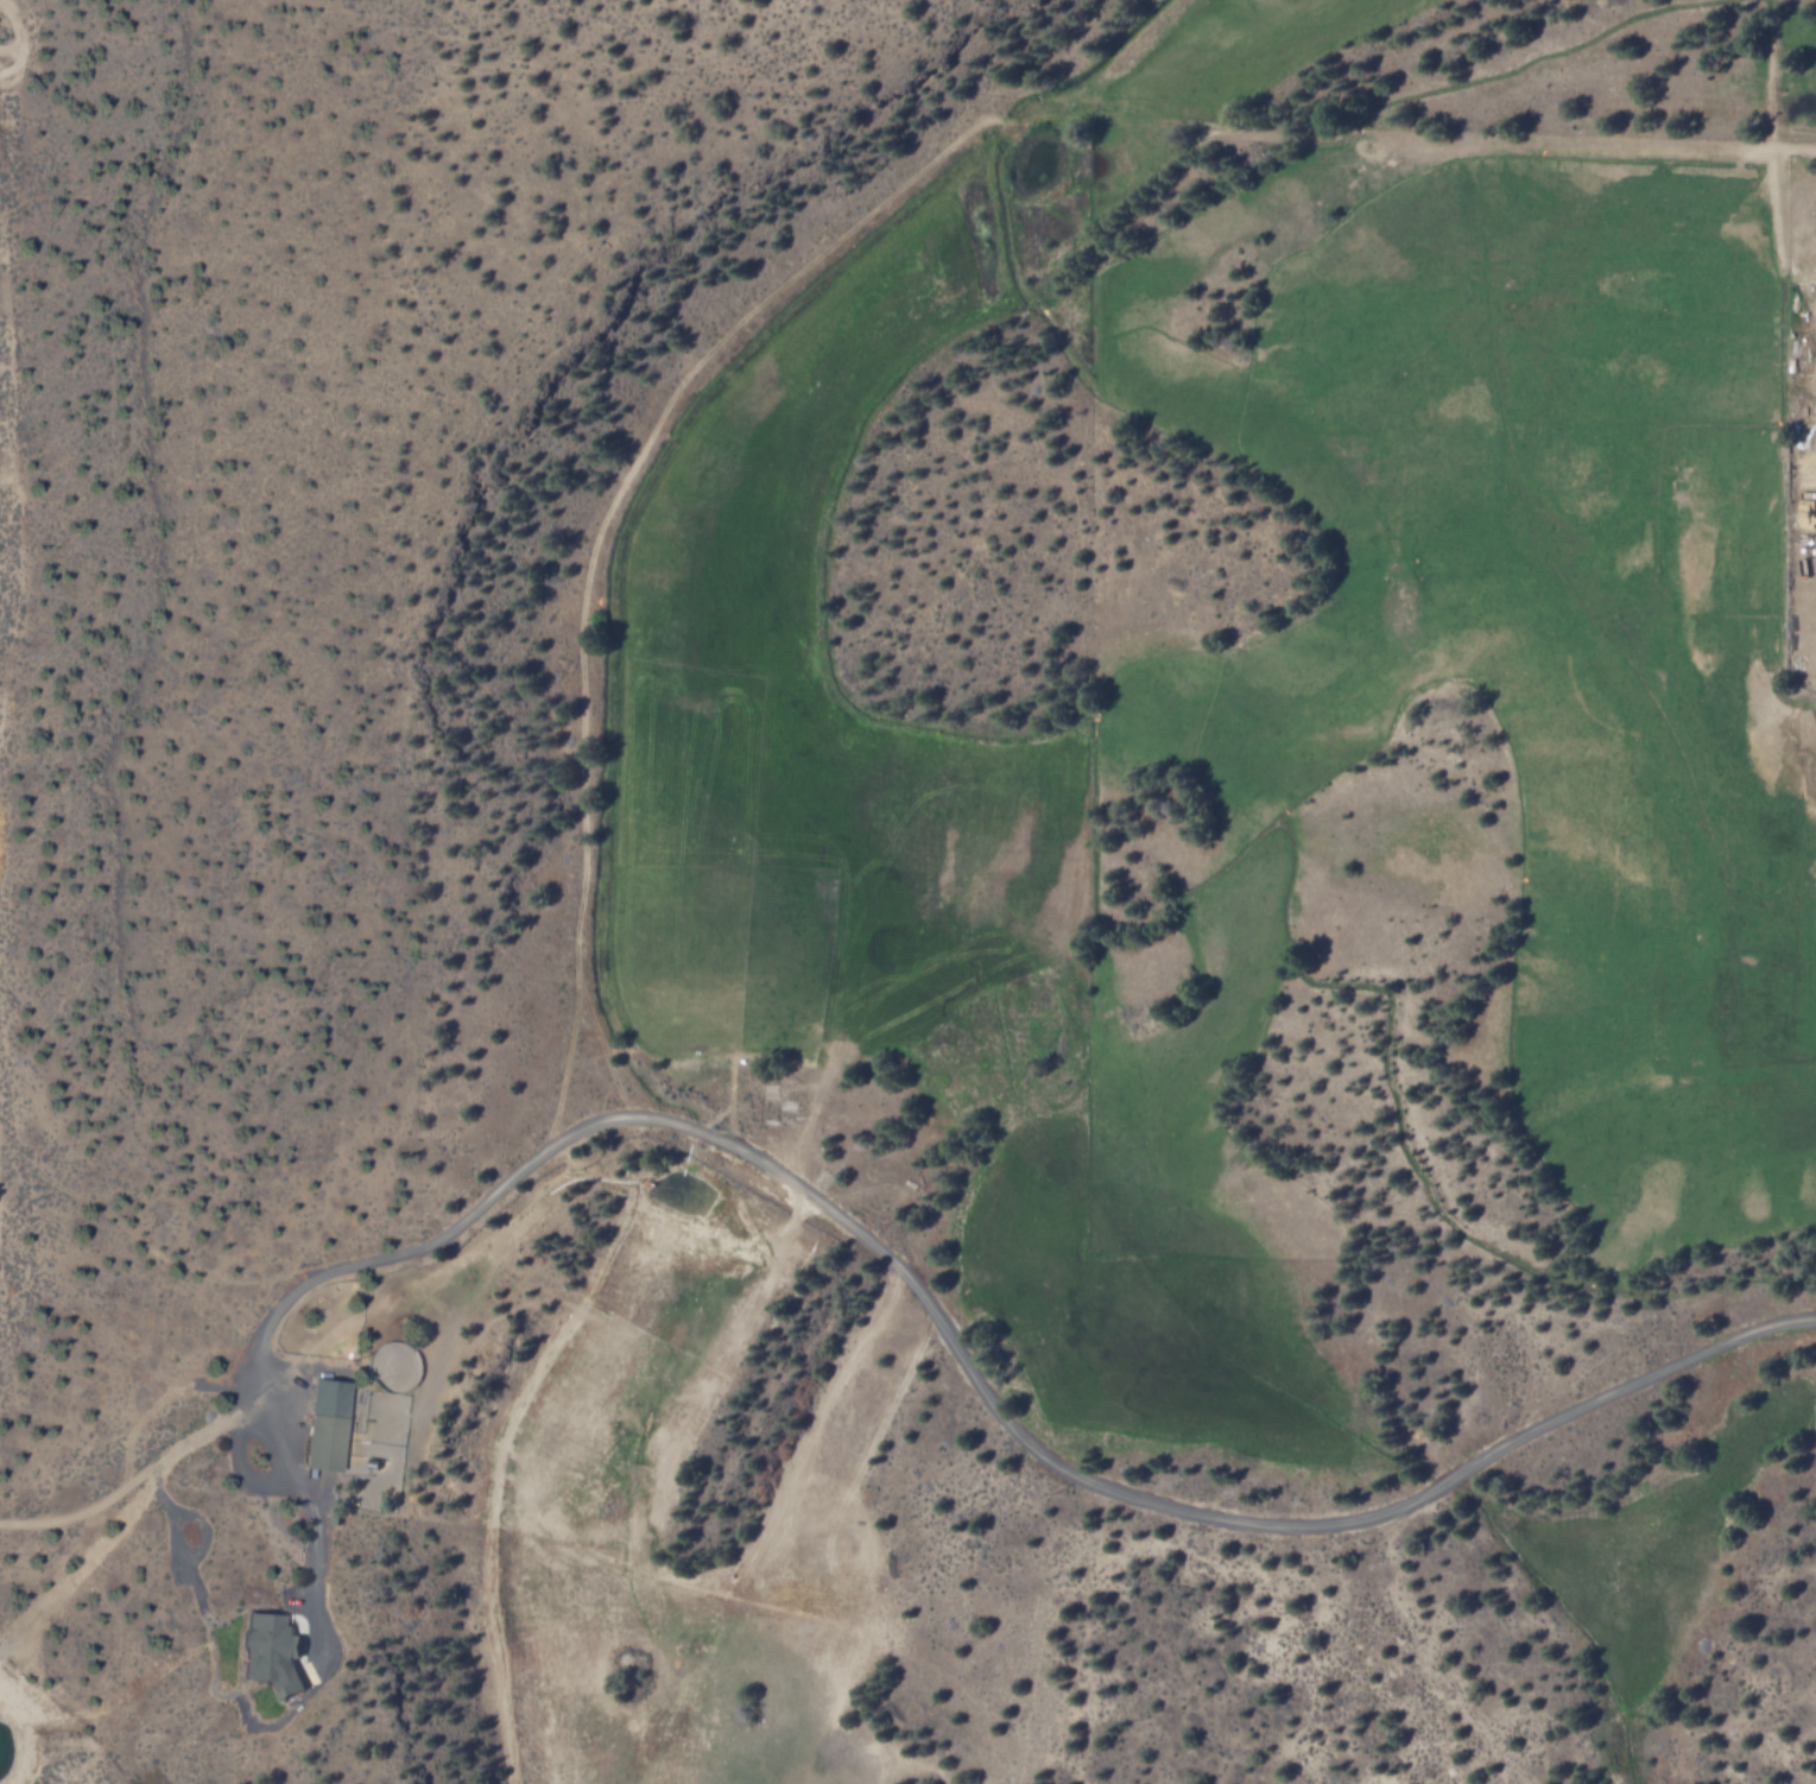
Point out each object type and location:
crop: (1325, 26)
road: (608, 513)
crop: (1506, 611)
road: (600, 1050)
road: (143, 1240)
road: (890, 1266)
building: (329, 1424)
building: (273, 1653)

